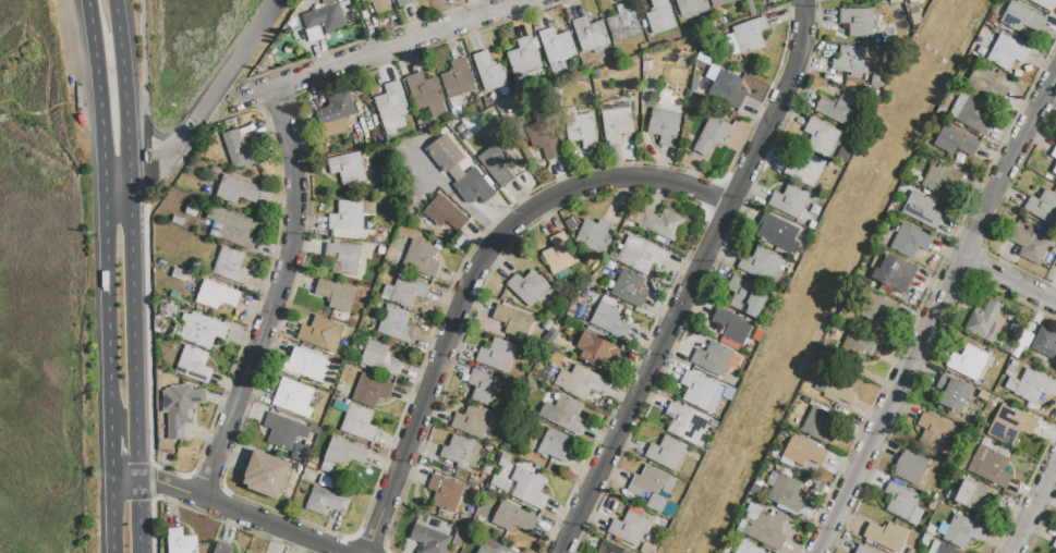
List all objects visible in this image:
building: (342, 1)
building: (404, 2)
building: (720, 2)
building: (1045, 4)
building: (380, 5)
building: (691, 7)
building: (660, 17)
building: (1022, 17)
building: (326, 19)
building: (858, 22)
road: (90, 23)
building: (623, 23)
building: (591, 34)
building: (751, 35)
road: (360, 41)
road: (399, 45)
building: (558, 46)
building: (1007, 52)
street lamp: (1049, 57)
building: (524, 60)
building: (848, 62)
building: (489, 72)
building: (980, 78)
road: (215, 79)
building: (458, 82)
building: (725, 87)
building: (426, 94)
road: (252, 97)
road: (145, 103)
road: (275, 103)
road: (207, 108)
building: (392, 108)
building: (838, 110)
building: (971, 112)
building: (336, 114)
road: (99, 116)
building: (617, 125)
building: (664, 126)
building: (581, 127)
building: (544, 135)
building: (712, 136)
building: (821, 137)
building: (956, 140)
building: (240, 151)
building: (446, 153)
building: (1054, 153)
building: (497, 164)
building: (804, 168)
building: (349, 169)
building: (1054, 171)
parking lot: (444, 174)
building: (940, 179)
building: (473, 187)
building: (238, 191)
road: (621, 193)
building: (790, 200)
building: (1043, 207)
road: (998, 210)
building: (922, 212)
building: (446, 213)
building: (351, 216)
building: (661, 224)
building: (231, 228)
road: (974, 228)
building: (778, 233)
building: (593, 235)
street lamp: (955, 237)
building: (906, 239)
road: (132, 241)
building: (1029, 244)
building: (560, 254)
building: (640, 255)
building: (421, 258)
building: (342, 259)
road: (975, 262)
building: (231, 266)
building: (763, 266)
building: (894, 273)
road: (472, 274)
road: (691, 278)
road: (707, 280)
road: (1009, 283)
building: (529, 287)
building: (629, 288)
building: (405, 292)
road: (924, 294)
building: (217, 295)
building: (336, 295)
road: (276, 296)
building: (747, 297)
road: (107, 309)
building: (168, 310)
road: (936, 316)
building: (511, 321)
building: (609, 321)
building: (986, 321)
building: (397, 324)
building: (731, 325)
building: (204, 331)
building: (323, 333)
building: (756, 335)
building: (1024, 339)
building: (1045, 343)
building: (859, 346)
building: (1016, 351)
building: (597, 352)
building: (497, 356)
building: (380, 358)
building: (713, 359)
building: (194, 365)
building: (970, 365)
building: (308, 366)
road: (920, 371)
building: (579, 382)
building: (1029, 385)
building: (484, 388)
building: (834, 388)
building: (697, 389)
building: (372, 390)
building: (952, 394)
building: (294, 397)
building: (180, 408)
building: (565, 414)
road: (214, 416)
building: (356, 420)
building: (475, 422)
building: (685, 423)
building: (817, 423)
building: (1010, 426)
building: (284, 431)
building: (935, 431)
street lamp: (886, 437)
building: (553, 445)
building: (459, 452)
building: (668, 453)
building: (803, 453)
building: (342, 455)
road: (110, 457)
building: (503, 459)
building: (991, 463)
street lamp: (1040, 465)
building: (910, 467)
building: (485, 468)
building: (267, 475)
building: (328, 481)
road: (125, 482)
road: (155, 482)
road: (206, 482)
building: (500, 483)
road: (171, 487)
building: (529, 488)
building: (652, 488)
road: (1024, 489)
building: (937, 490)
building: (446, 493)
building: (787, 493)
building: (975, 497)
street lamp: (165, 499)
building: (326, 501)
building: (901, 503)
building: (931, 504)
road: (1033, 508)
road: (204, 514)
road: (111, 517)
road: (141, 517)
building: (513, 518)
building: (1055, 521)
road: (1041, 523)
road: (281, 525)
street lamp: (585, 526)
building: (930, 527)
building: (762, 528)
building: (629, 529)
road: (327, 530)
building: (962, 531)
building: (473, 534)
street lamp: (1006, 534)
building: (887, 536)
building: (924, 539)
building: (429, 540)
road: (369, 541)
building: (180, 542)
building: (1054, 544)
building: (222, 548)
building: (485, 548)
building: (609, 548)
building: (646, 548)
building: (940, 549)
building: (752, 550)
building: (863, 550)

